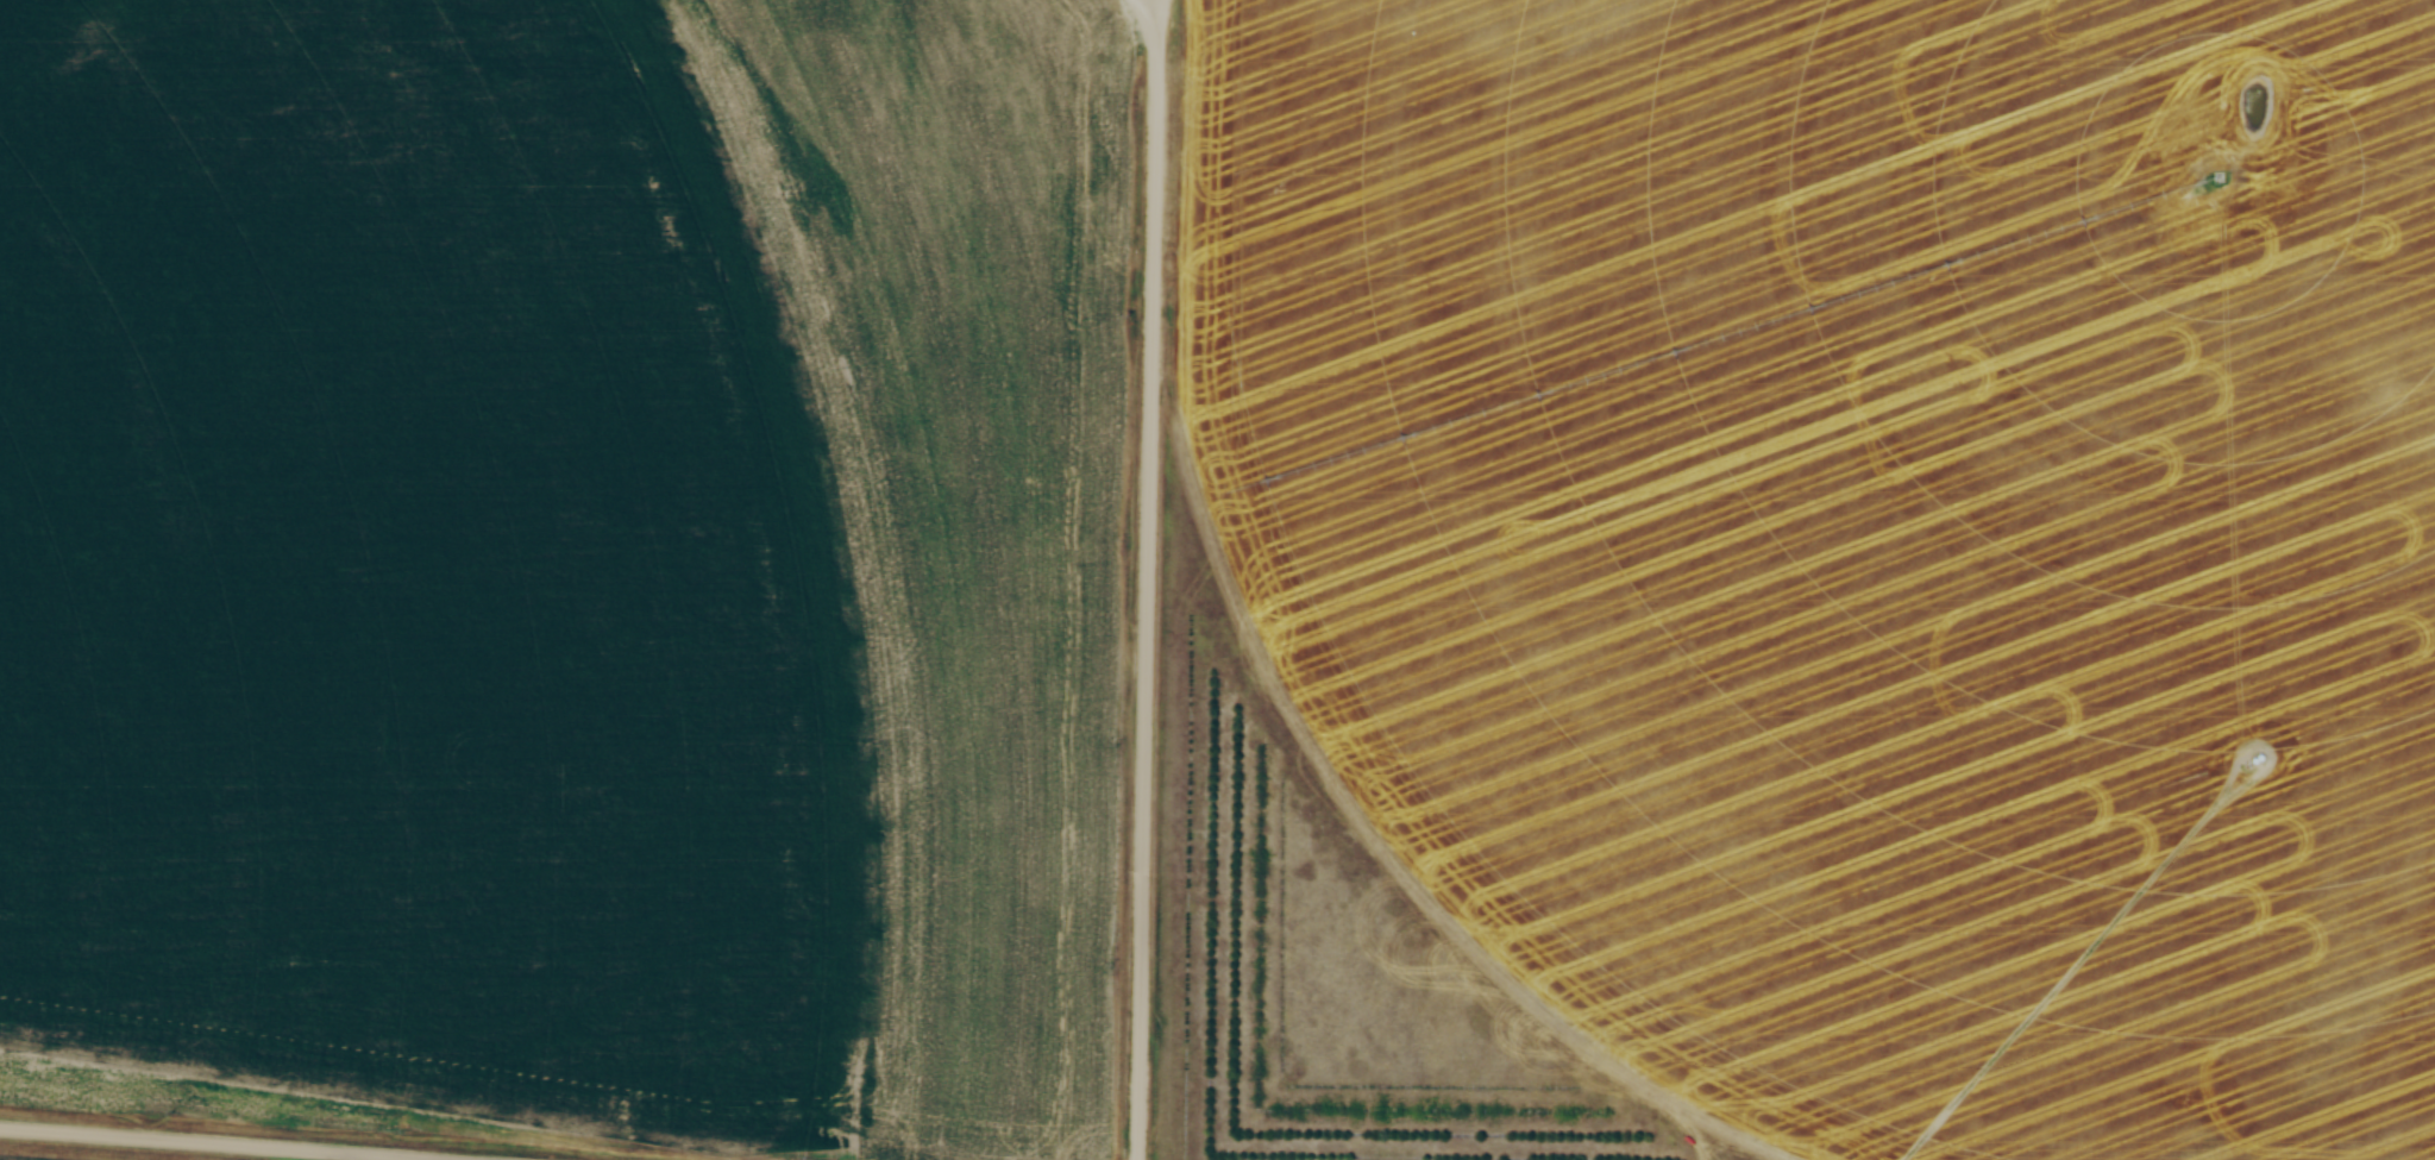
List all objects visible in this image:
road: (1153, 6)
road: (1150, 582)
road: (202, 1145)

